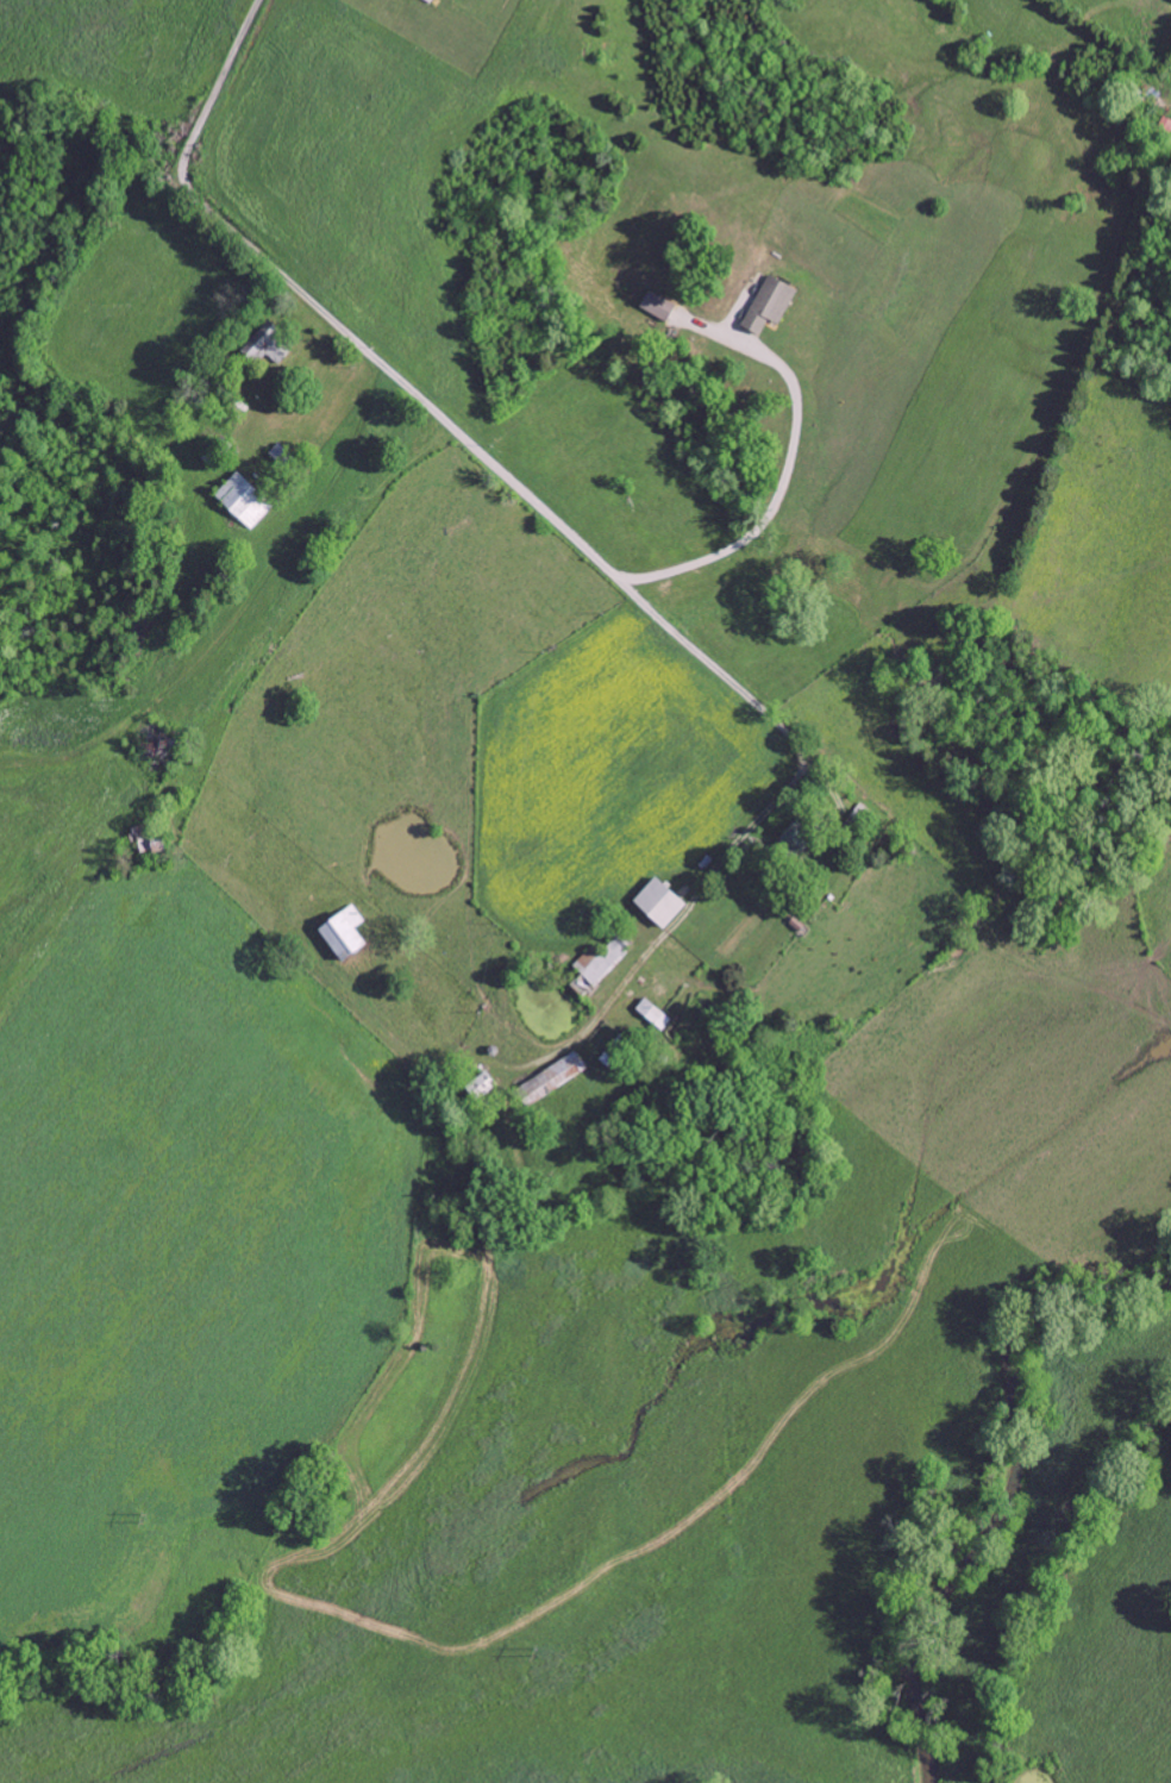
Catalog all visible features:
road: (1037, 105)
building: (771, 304)
building: (659, 305)
building: (269, 343)
road: (432, 407)
building: (245, 500)
road: (445, 784)
building: (662, 902)
building: (346, 933)
building: (600, 964)
building: (619, 1053)
building: (553, 1078)
building: (483, 1086)
river: (1015, 1490)

